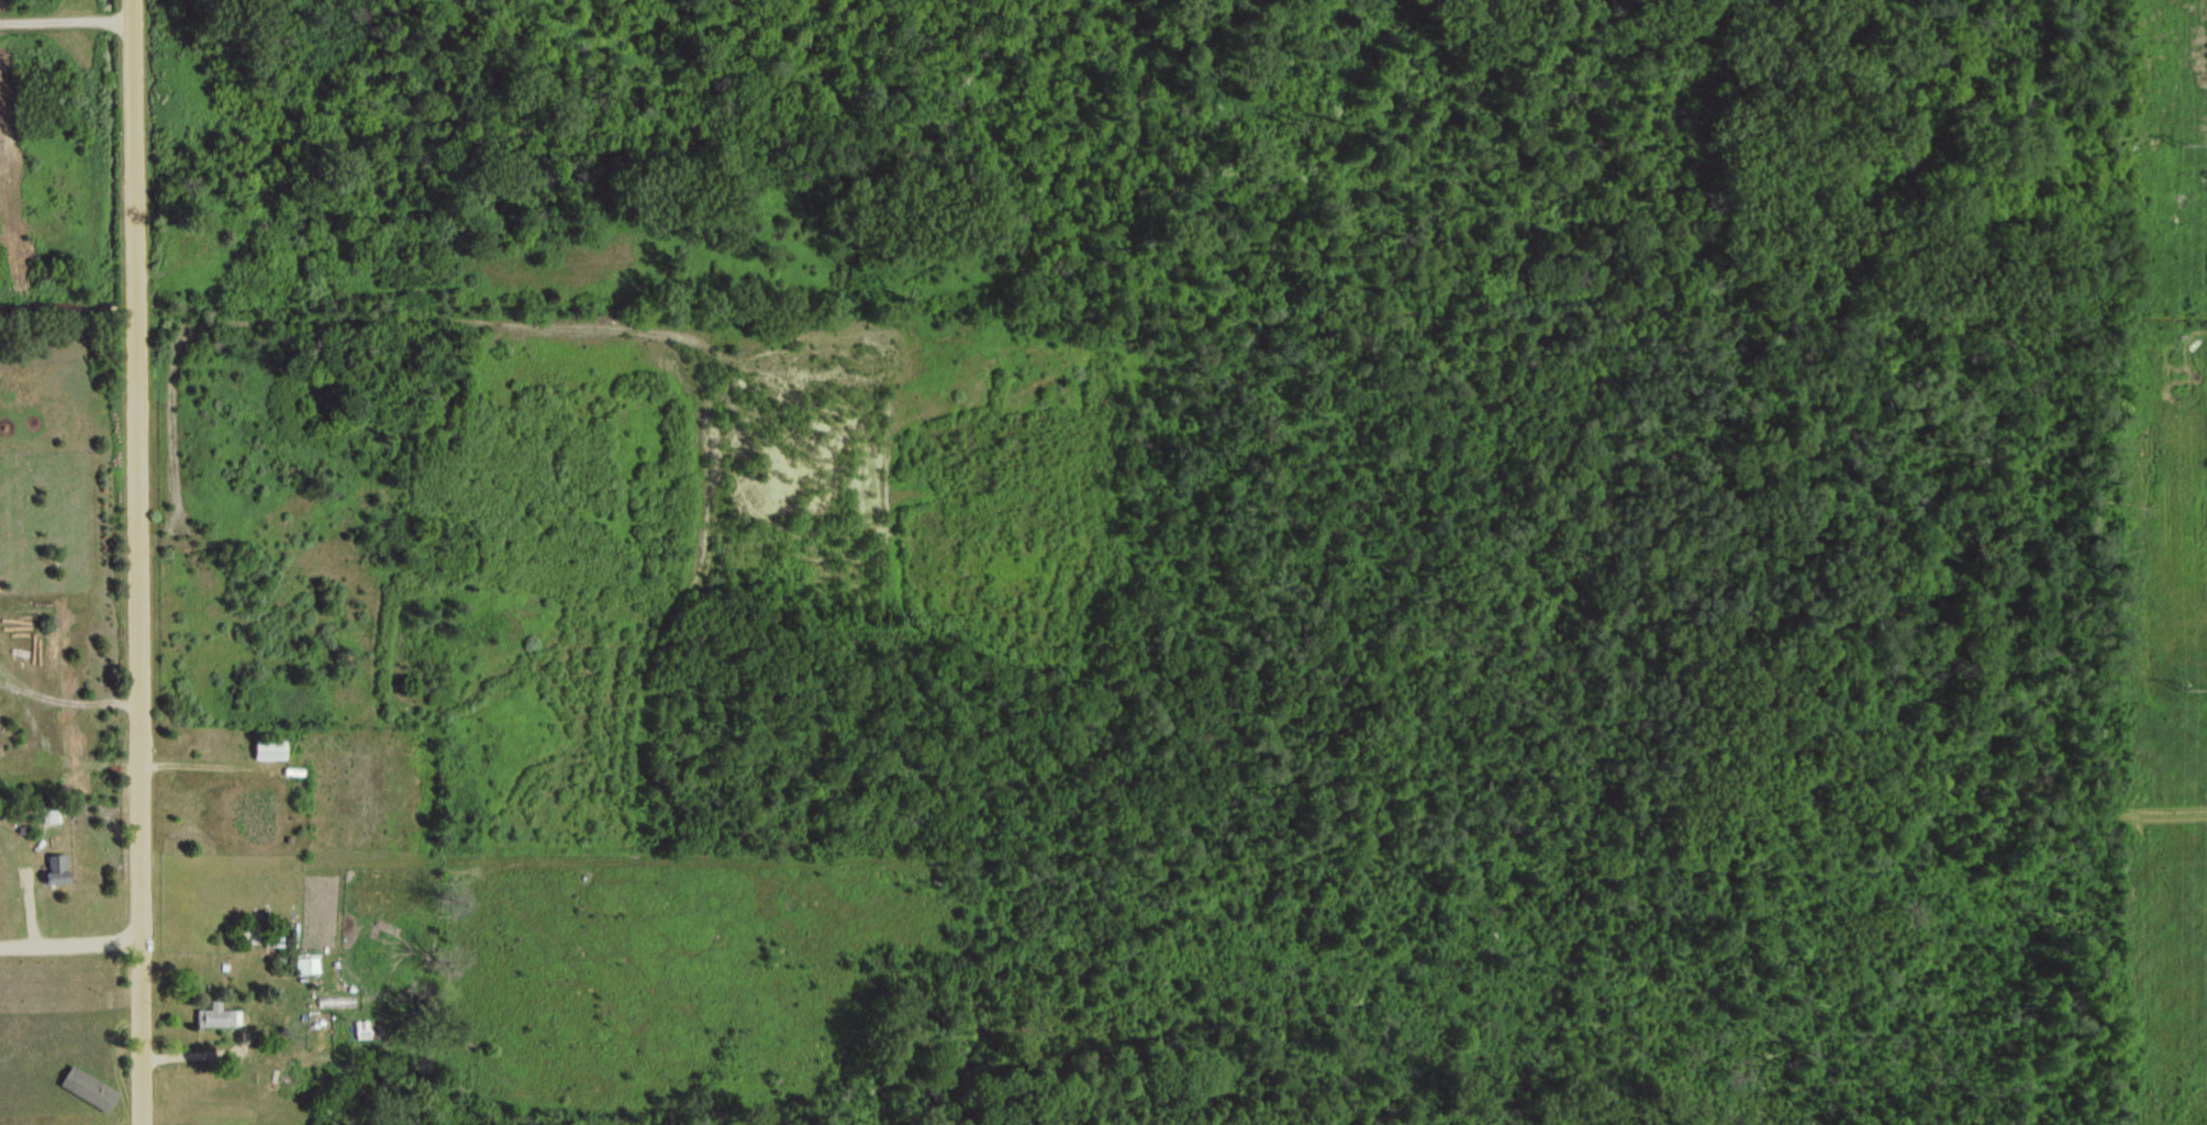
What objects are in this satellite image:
road: (66, 14)
power tower: (2163, 137)
road: (136, 561)
power tower: (2174, 690)
building: (267, 748)
road: (68, 809)
building: (47, 814)
building: (55, 867)
road: (69, 937)
building: (305, 964)
building: (215, 1015)
building: (86, 1088)

